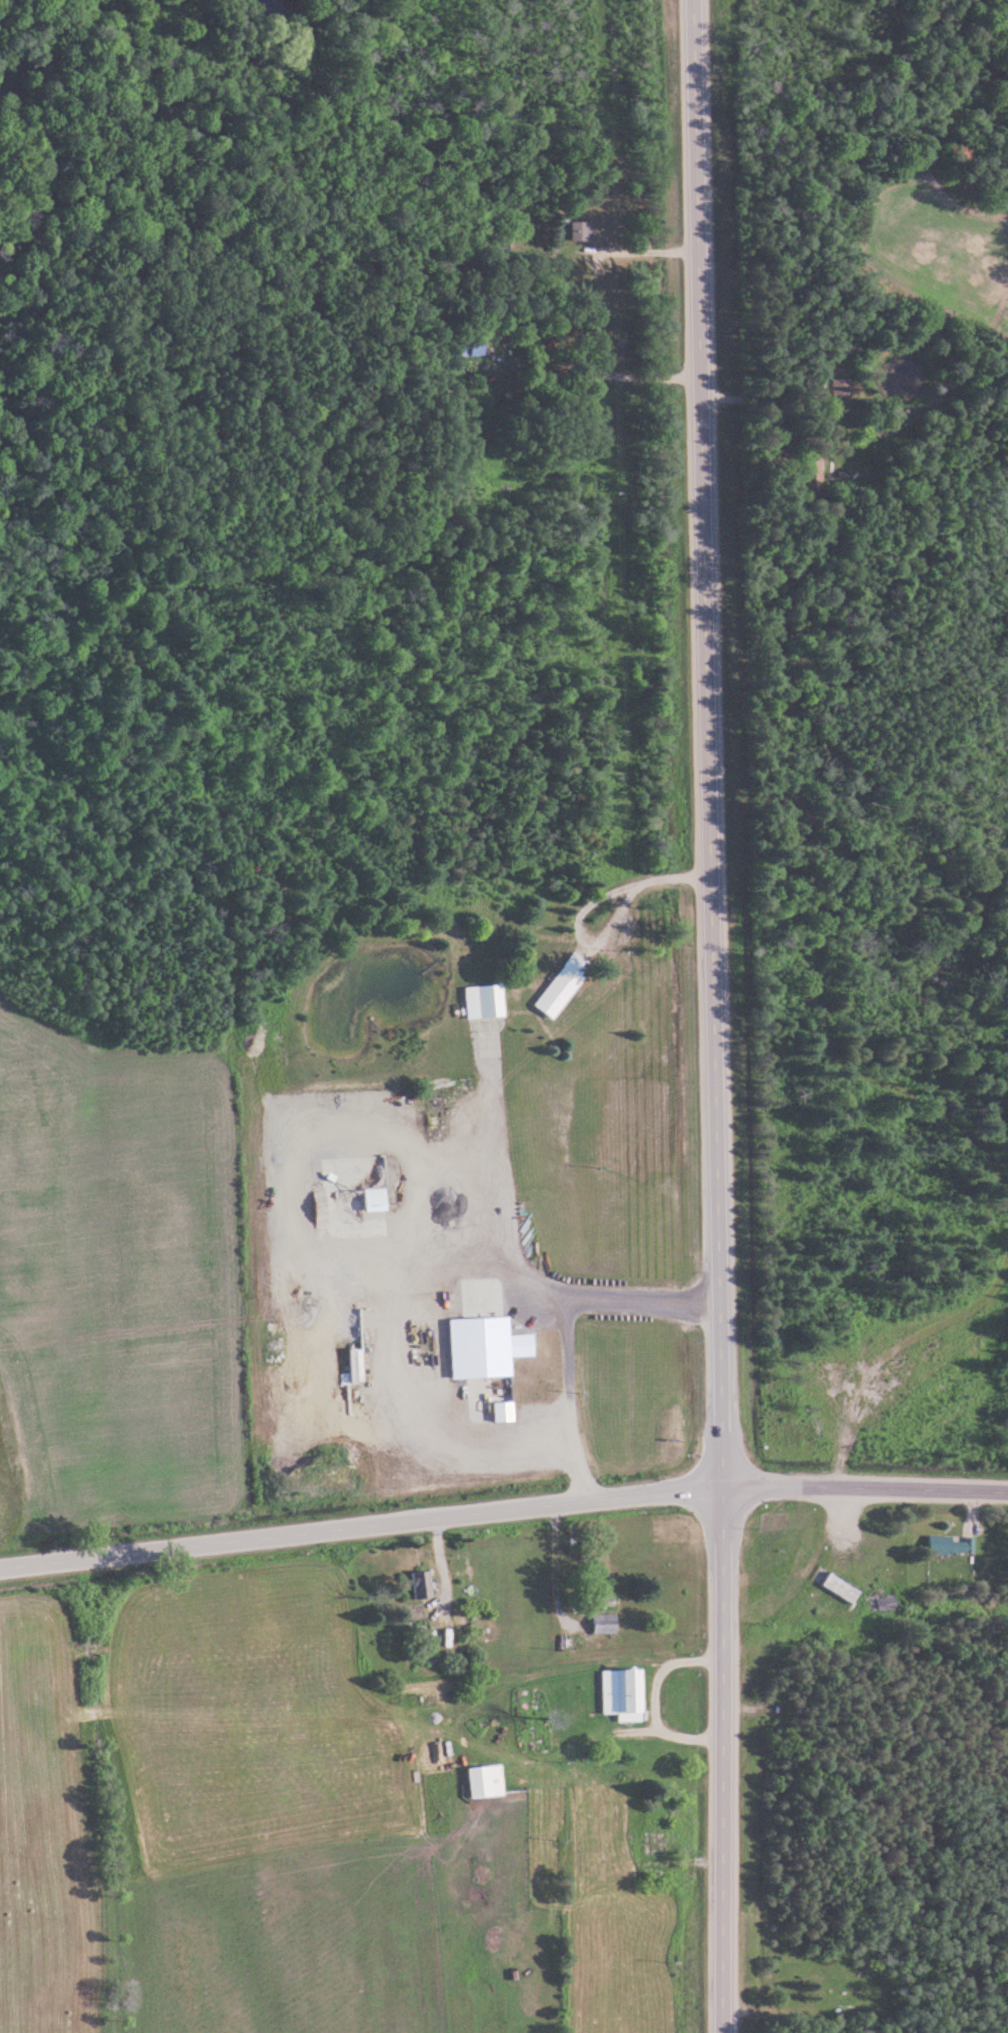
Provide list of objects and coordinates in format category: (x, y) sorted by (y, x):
building: (581, 232)
building: (477, 345)
building: (842, 393)
building: (815, 471)
road: (197, 536)
road: (353, 980)
building: (564, 985)
building: (485, 1001)
road: (715, 1016)
building: (433, 1111)
building: (485, 1348)
road: (866, 1486)
road: (362, 1524)
building: (952, 1546)
building: (422, 1585)
building: (605, 1623)
building: (427, 1640)
building: (623, 1694)
building: (486, 1782)

